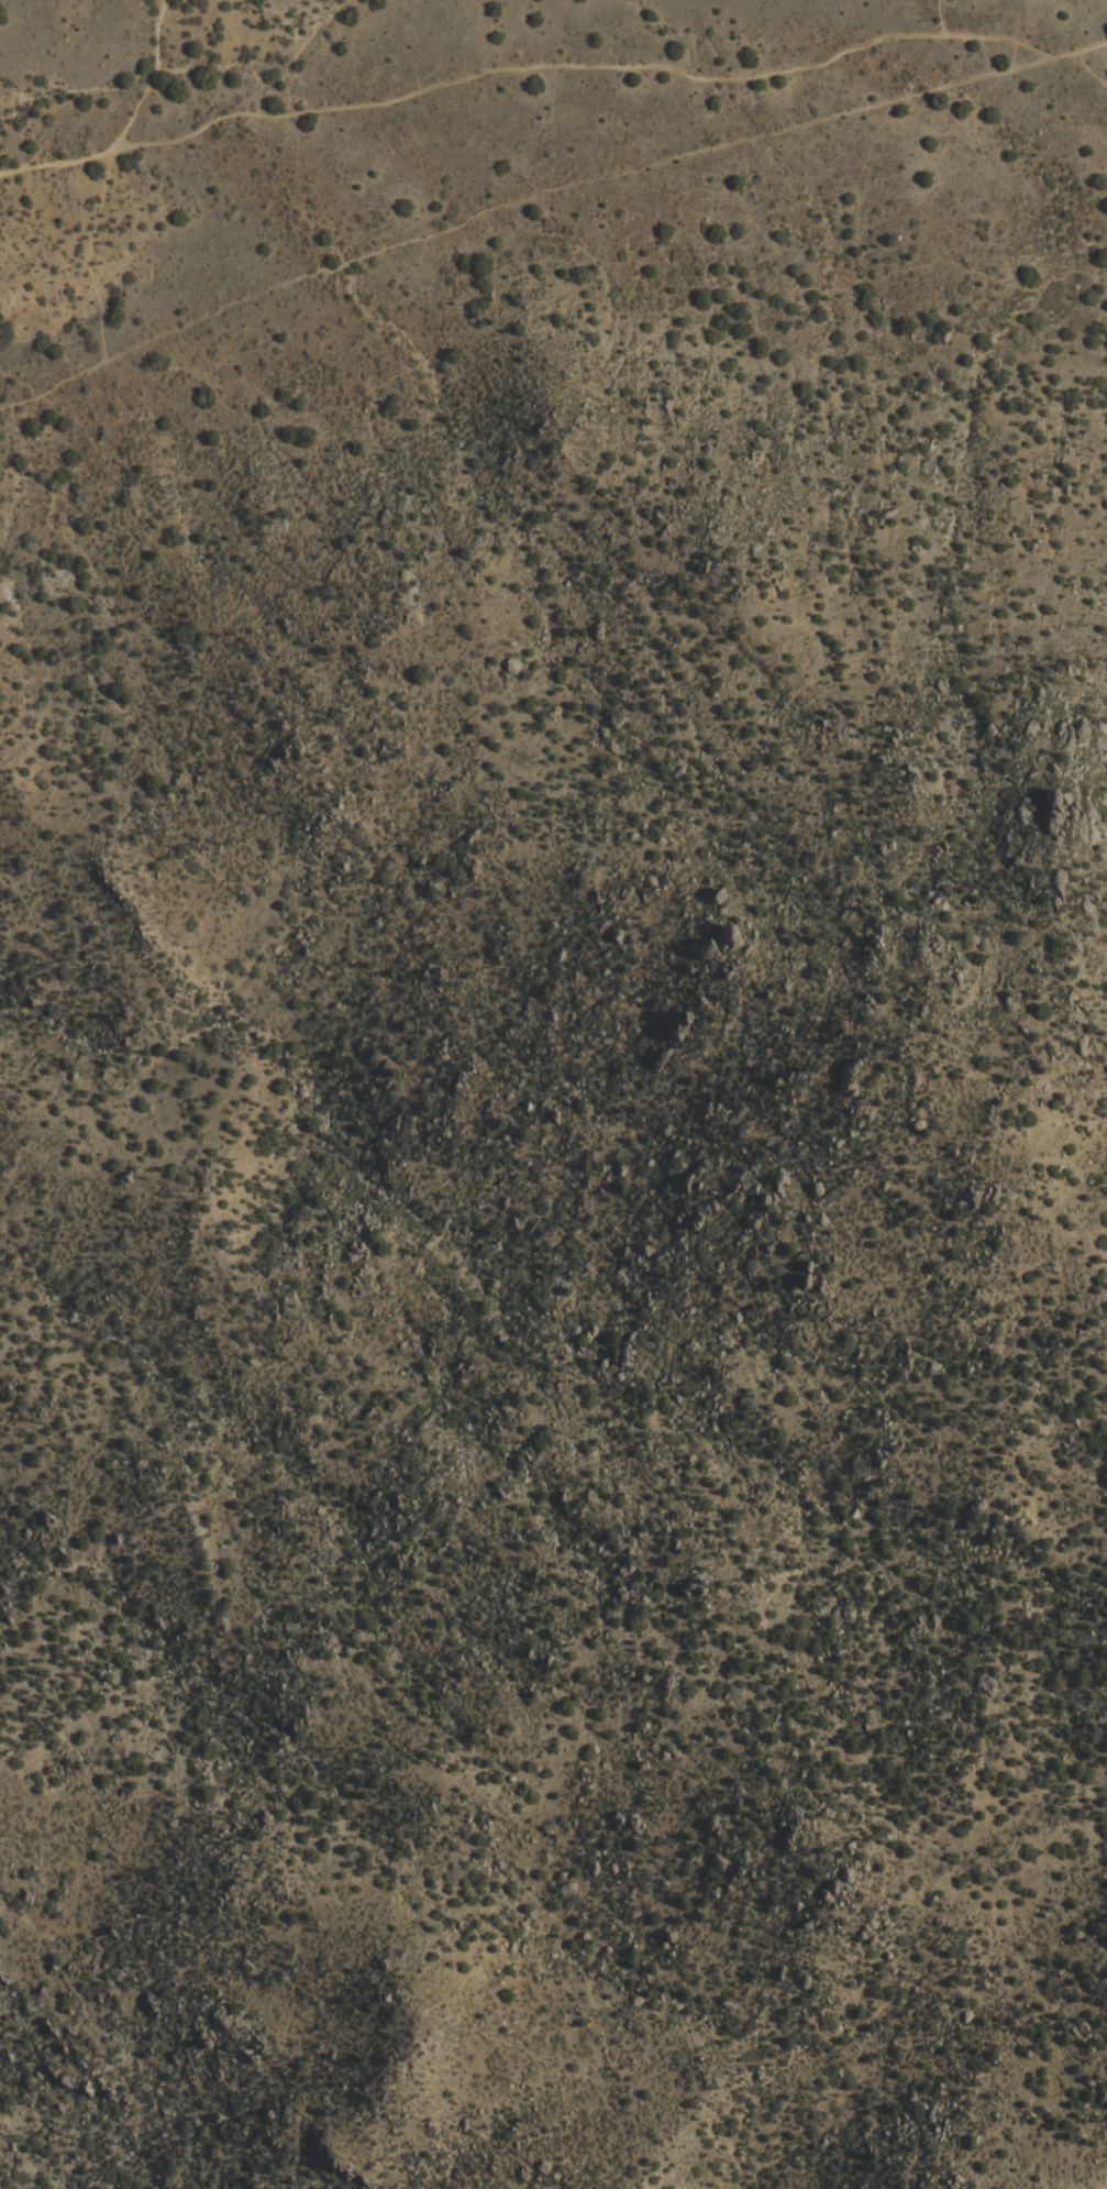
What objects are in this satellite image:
road: (972, 22)
road: (551, 67)
road: (1084, 68)
road: (155, 76)
road: (536, 207)
road: (91, 251)
road: (738, 299)
road: (15, 403)
road: (185, 510)
road: (544, 2006)

